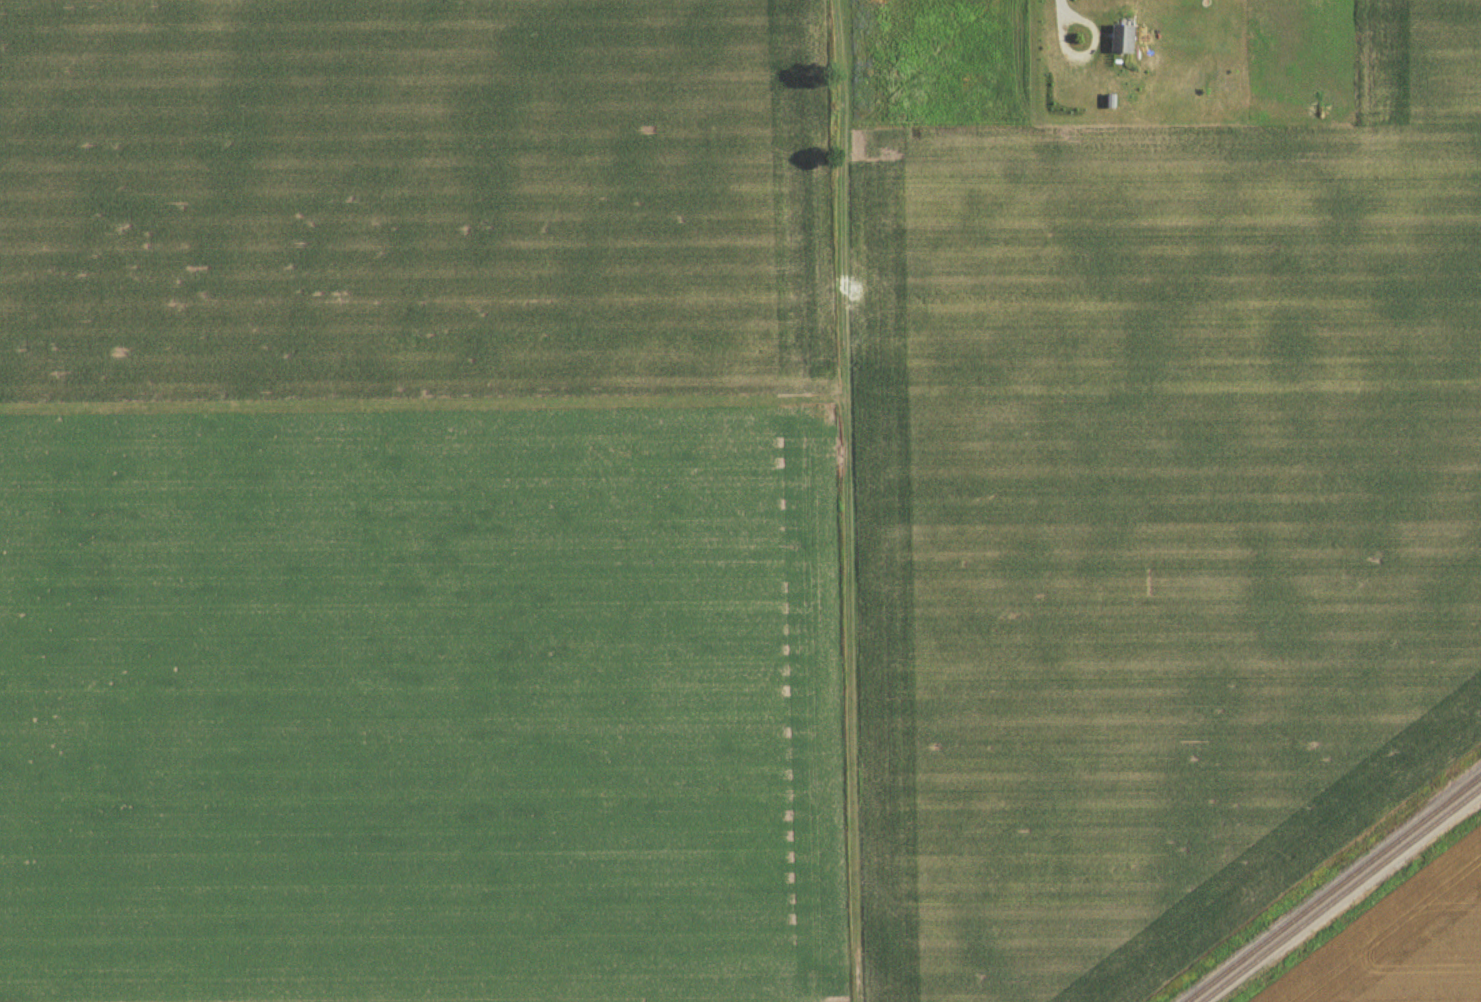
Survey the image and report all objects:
building: (1121, 43)
railway: (1335, 890)
railway: (1342, 896)

